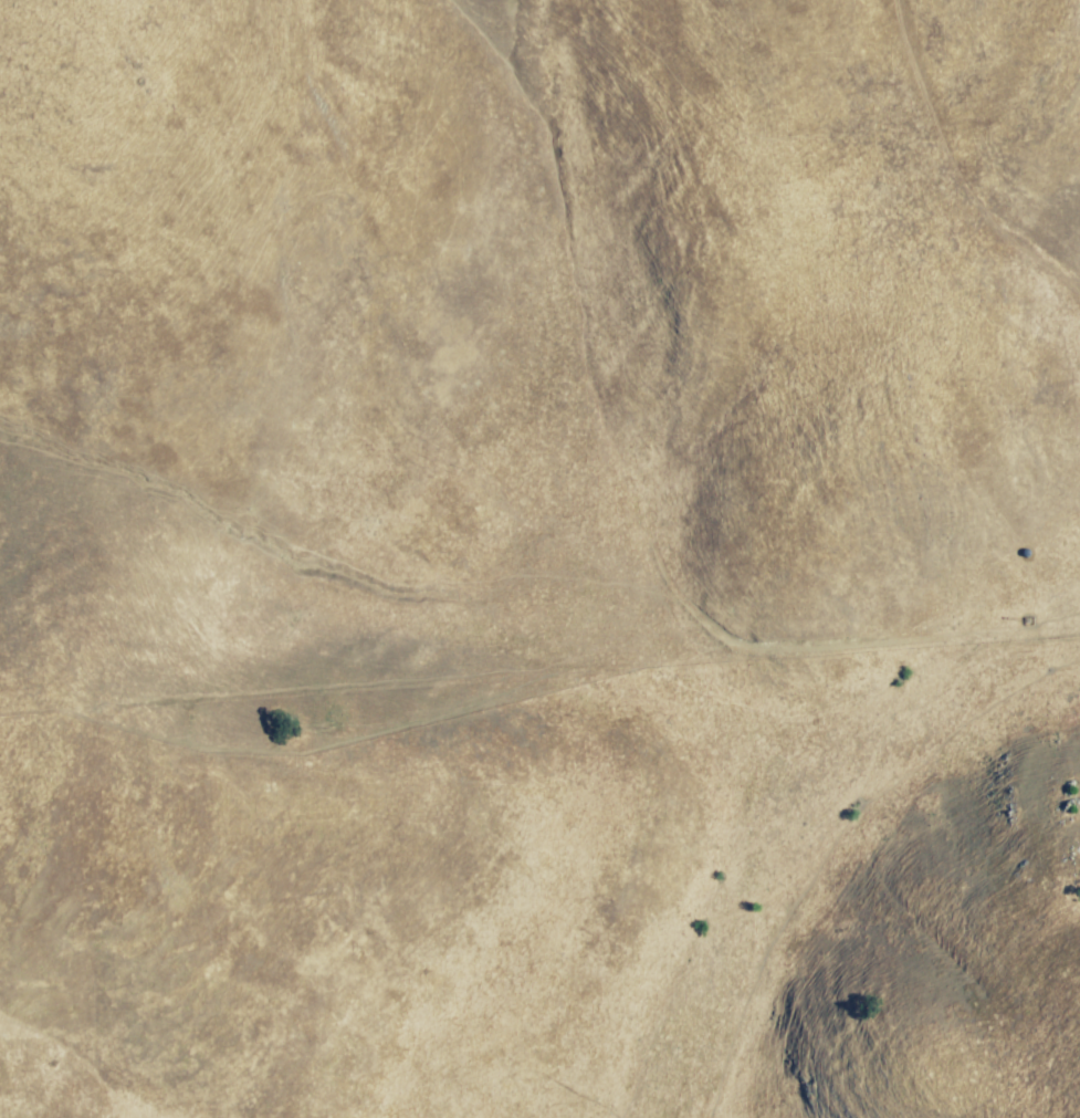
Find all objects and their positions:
road: (880, 865)

